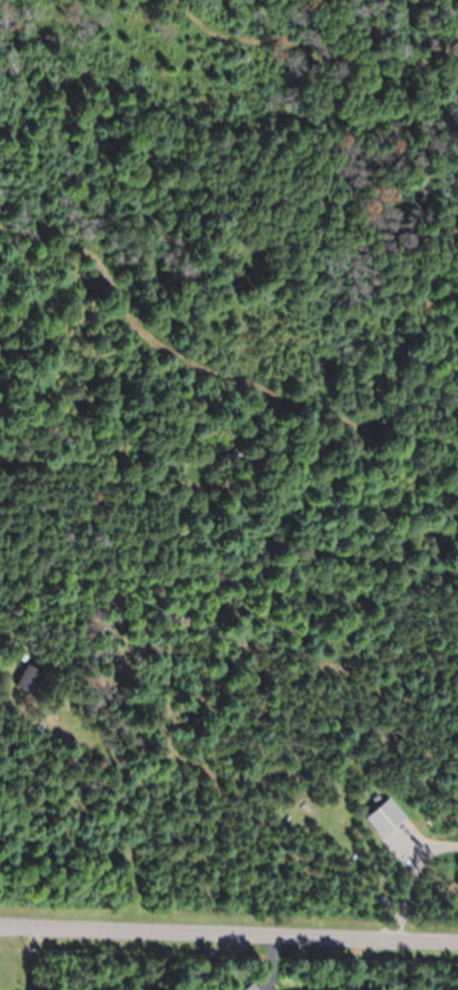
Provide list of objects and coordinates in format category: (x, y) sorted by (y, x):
building: (29, 680)
road: (229, 938)

